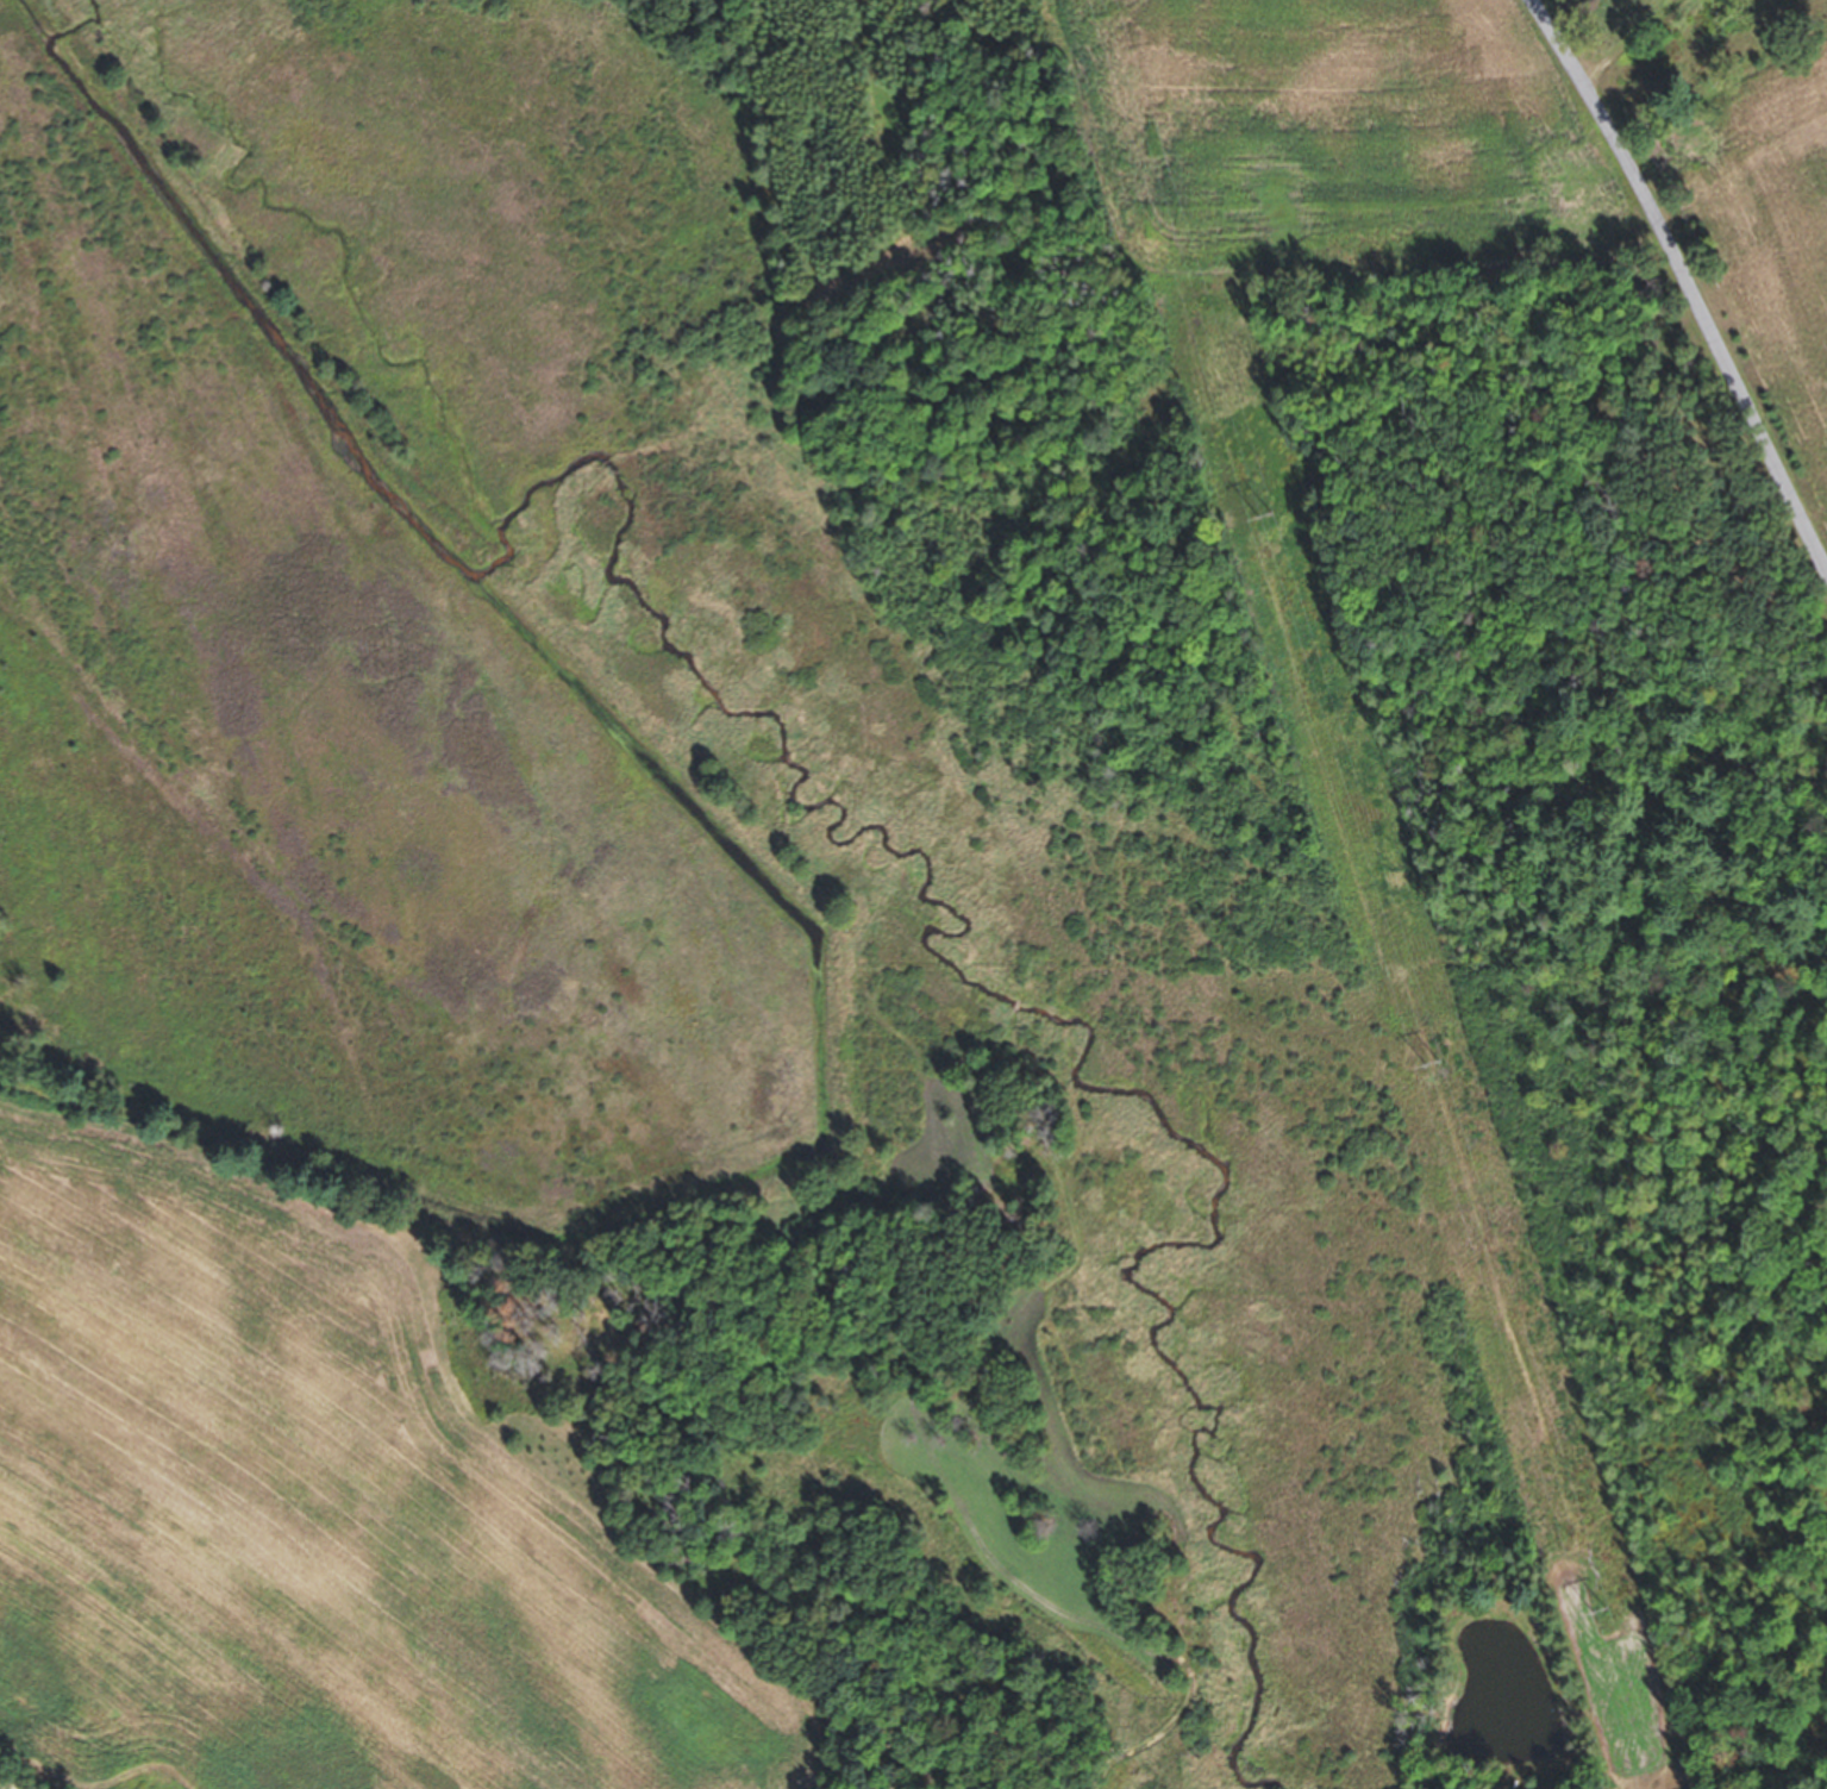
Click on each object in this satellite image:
road: (1701, 259)
power tower: (1275, 525)
power tower: (1429, 1071)
power tower: (1576, 1618)

